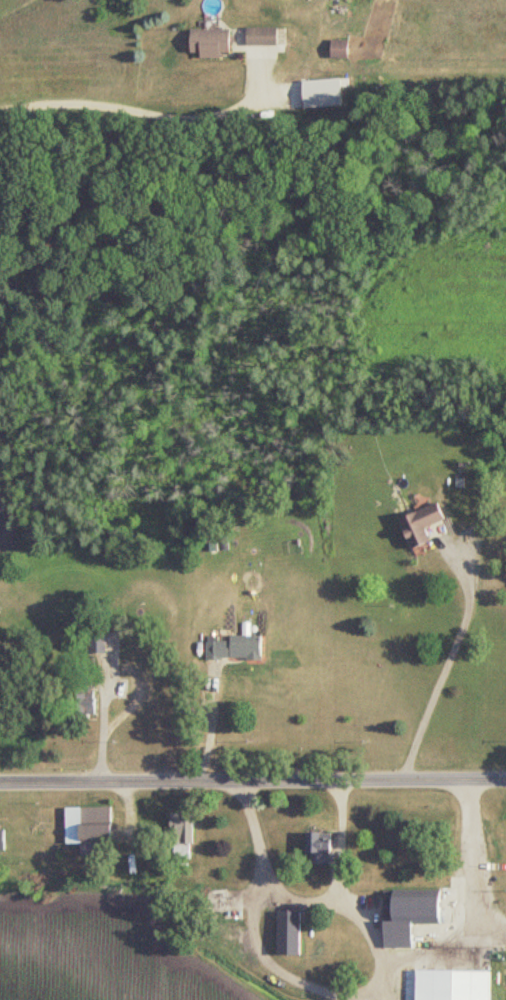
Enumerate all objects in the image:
building: (260, 36)
building: (210, 42)
building: (338, 49)
road: (142, 106)
building: (420, 523)
building: (97, 642)
building: (233, 648)
road: (448, 663)
building: (85, 700)
road: (109, 715)
road: (212, 722)
road: (253, 781)
building: (90, 830)
building: (181, 837)
building: (2, 841)
road: (343, 842)
building: (320, 848)
building: (407, 914)
building: (289, 933)
road: (384, 955)
road: (294, 978)
building: (452, 985)

